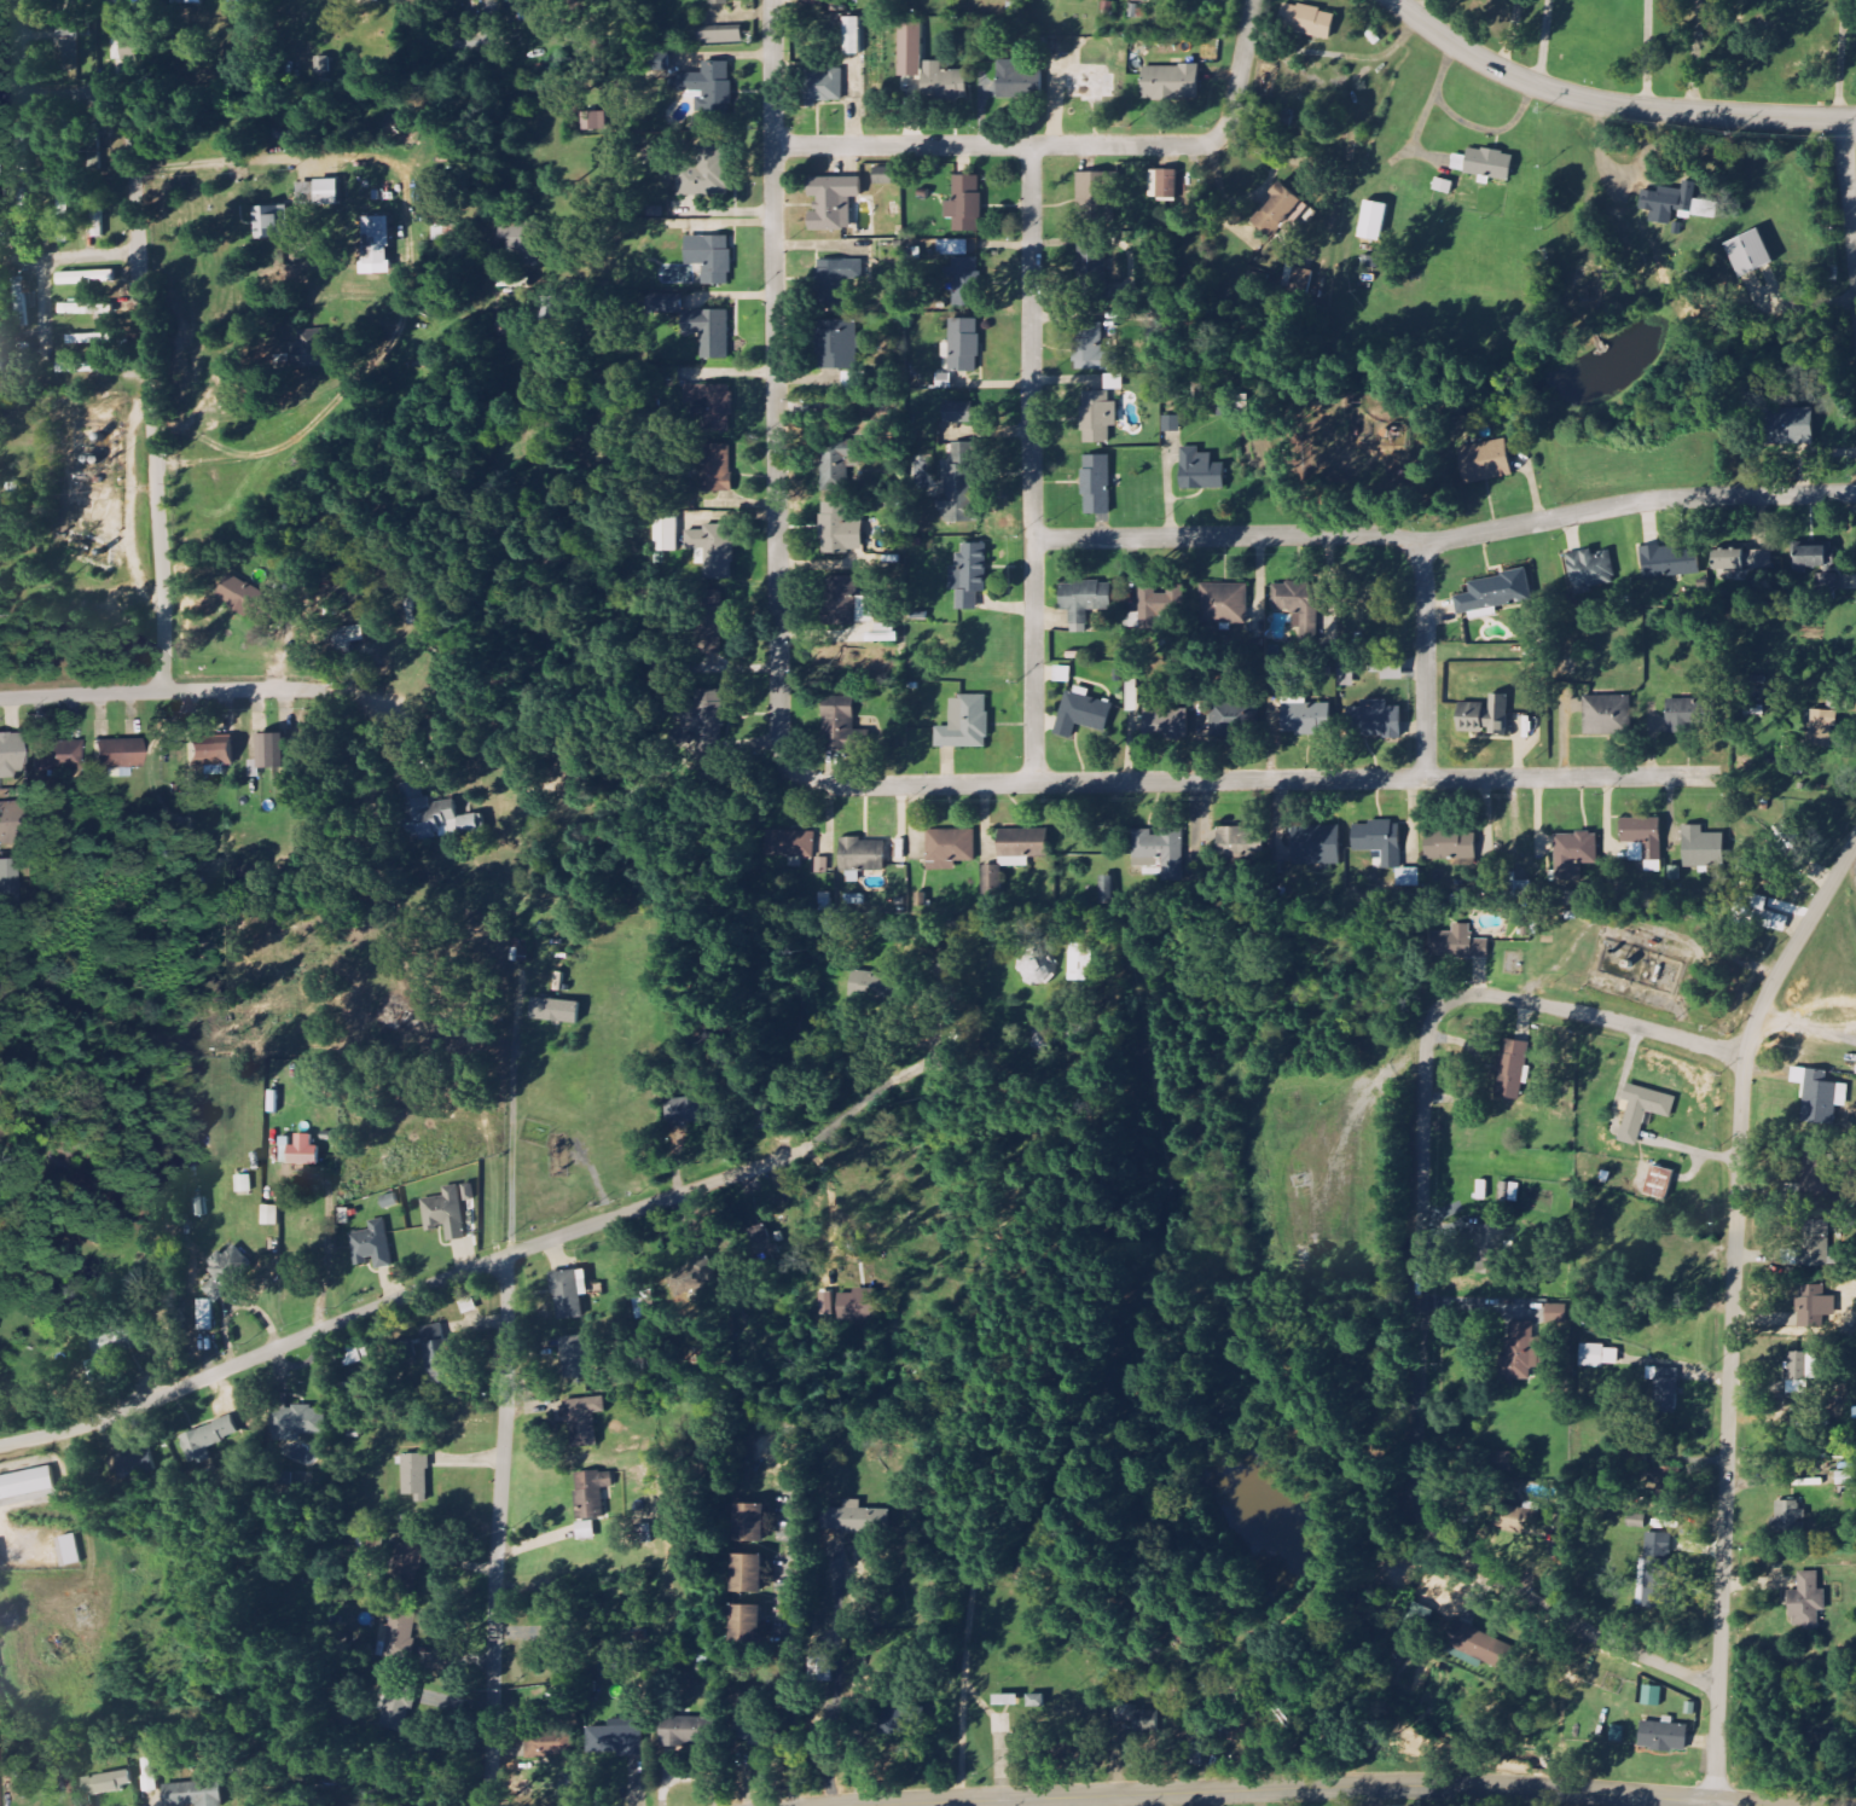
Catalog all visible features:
building: (1147, 0)
building: (719, 1)
road: (1421, 8)
building: (1307, 21)
road: (1510, 34)
building: (853, 35)
building: (720, 37)
road: (1542, 42)
building: (57, 43)
road: (16, 48)
building: (911, 50)
road: (1645, 54)
building: (657, 60)
building: (1055, 63)
road: (1239, 72)
building: (1011, 80)
building: (944, 82)
building: (1171, 82)
building: (709, 85)
building: (824, 86)
road: (59, 95)
road: (1612, 104)
building: (593, 121)
road: (996, 147)
road: (263, 157)
building: (1485, 164)
building: (704, 174)
building: (886, 175)
building: (1167, 185)
building: (327, 193)
building: (1094, 198)
building: (834, 203)
building: (1676, 203)
building: (965, 204)
building: (24, 209)
road: (1850, 209)
building: (1281, 210)
building: (63, 219)
building: (1374, 221)
building: (272, 222)
building: (82, 225)
building: (445, 232)
building: (524, 237)
building: (376, 240)
road: (24, 252)
building: (1750, 254)
building: (710, 257)
road: (43, 263)
building: (1092, 273)
building: (87, 278)
building: (836, 281)
building: (964, 283)
building: (23, 301)
building: (666, 303)
building: (75, 308)
building: (512, 325)
building: (709, 332)
building: (88, 338)
building: (835, 344)
building: (964, 345)
building: (311, 348)
building: (1092, 349)
building: (80, 367)
road: (360, 373)
road: (779, 376)
building: (1114, 382)
road: (150, 394)
building: (714, 406)
building: (958, 413)
building: (1098, 417)
building: (1172, 424)
building: (840, 463)
building: (1485, 463)
road: (1034, 464)
building: (717, 469)
building: (1201, 471)
building: (1097, 486)
building: (959, 487)
building: (840, 530)
road: (1445, 536)
building: (713, 551)
building: (1816, 556)
building: (1744, 561)
building: (1671, 562)
building: (1589, 571)
building: (970, 575)
building: (1827, 588)
building: (1495, 593)
building: (238, 596)
building: (1295, 598)
building: (1228, 600)
building: (1085, 602)
building: (1159, 603)
building: (708, 622)
building: (883, 638)
building: (348, 639)
road: (1426, 657)
road: (159, 691)
building: (839, 702)
building: (1083, 715)
building: (1607, 715)
building: (1485, 716)
building: (1681, 716)
building: (1306, 718)
building: (1375, 720)
building: (1224, 722)
building: (706, 724)
building: (965, 724)
building: (840, 730)
building: (1821, 730)
building: (117, 754)
building: (271, 754)
building: (59, 755)
building: (10, 756)
building: (209, 757)
road: (1242, 779)
building: (436, 817)
building: (5, 824)
building: (1230, 838)
building: (1645, 842)
building: (789, 844)
building: (952, 846)
building: (1317, 846)
building: (1451, 846)
building: (1021, 847)
building: (1701, 847)
building: (1160, 850)
building: (1574, 854)
building: (863, 855)
building: (10, 883)
building: (1758, 914)
building: (1458, 945)
building: (1080, 963)
building: (1038, 971)
building: (877, 988)
building: (556, 1011)
building: (1512, 1070)
building: (1821, 1096)
building: (691, 1111)
building: (1643, 1111)
road: (511, 1143)
building: (284, 1149)
building: (303, 1151)
building: (1815, 1167)
building: (1659, 1183)
building: (244, 1184)
building: (1483, 1190)
building: (1510, 1192)
building: (446, 1213)
building: (271, 1215)
building: (764, 1243)
building: (372, 1245)
building: (1810, 1245)
building: (1491, 1250)
road: (324, 1255)
building: (226, 1270)
road: (1420, 1274)
building: (569, 1294)
road: (399, 1300)
road: (1733, 1305)
building: (859, 1306)
building: (1811, 1306)
building: (1556, 1313)
building: (205, 1316)
building: (121, 1337)
building: (436, 1348)
building: (1521, 1351)
building: (1599, 1355)
building: (575, 1357)
building: (1802, 1372)
building: (1665, 1389)
building: (294, 1421)
building: (585, 1421)
building: (207, 1439)
building: (1502, 1462)
building: (130, 1468)
building: (416, 1477)
building: (25, 1482)
building: (591, 1499)
building: (1527, 1512)
building: (1790, 1515)
building: (854, 1518)
building: (749, 1523)
road: (501, 1533)
building: (645, 1534)
building: (70, 1549)
building: (1655, 1569)
building: (749, 1573)
building: (406, 1574)
building: (1808, 1602)
building: (748, 1622)
building: (1479, 1645)
road: (791, 1651)
building: (605, 1659)
building: (825, 1668)
building: (1652, 1696)
building: (1007, 1700)
building: (564, 1706)
building: (1130, 1712)
building: (892, 1721)
building: (753, 1726)
building: (685, 1730)
building: (616, 1737)
building: (1664, 1737)
building: (550, 1746)
building: (105, 1782)
road: (1318, 1785)
building: (192, 1794)
road: (1640, 1800)
building: (85, 1801)
road: (1016, 1801)

